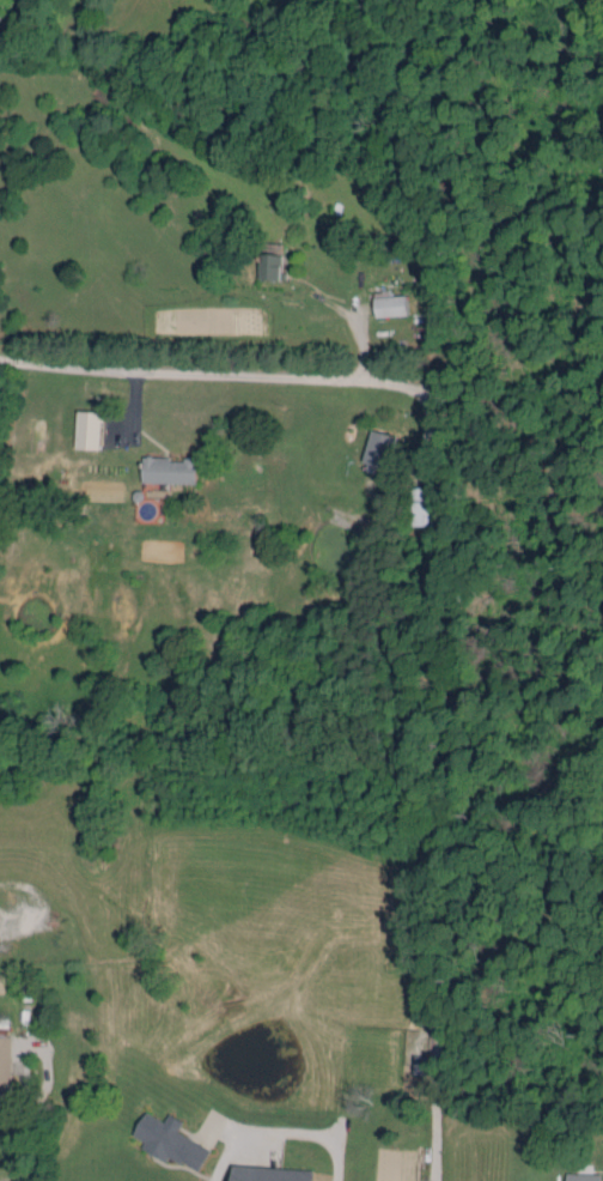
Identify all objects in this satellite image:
road: (10, 12)
building: (262, 261)
building: (379, 302)
road: (348, 323)
road: (178, 371)
building: (367, 444)
building: (158, 466)
building: (413, 502)
building: (0, 1036)
road: (41, 1044)
road: (287, 1133)
building: (160, 1137)
road: (16, 1139)
building: (257, 1173)
building: (571, 1174)

